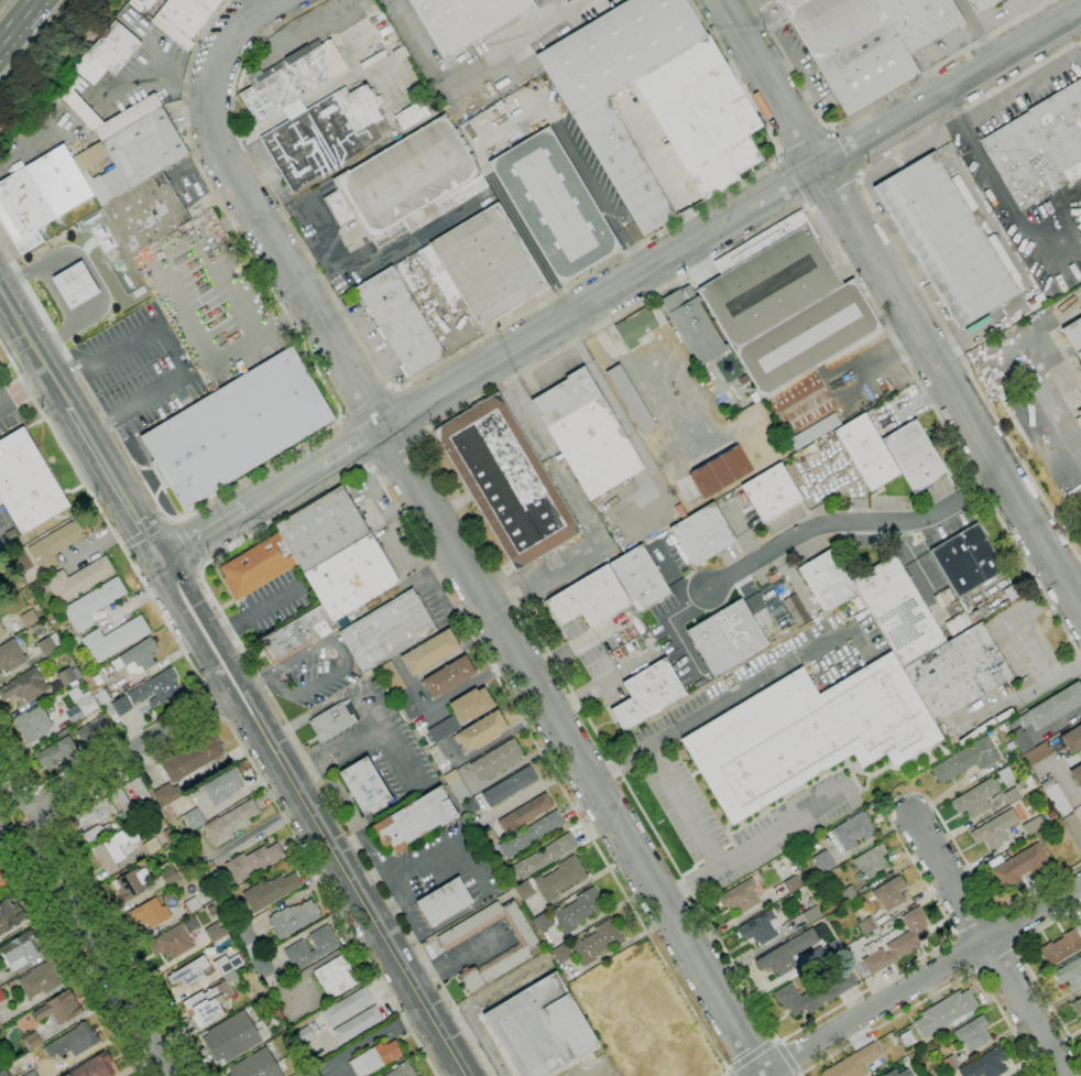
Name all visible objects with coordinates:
building: (141, 3)
building: (981, 4)
road: (554, 10)
road: (1080, 14)
building: (184, 19)
road: (17, 20)
building: (465, 20)
road: (978, 31)
building: (869, 41)
building: (619, 48)
road: (980, 72)
road: (477, 76)
building: (292, 78)
building: (70, 81)
road: (772, 84)
road: (1005, 97)
road: (875, 101)
road: (953, 115)
building: (411, 116)
building: (702, 116)
road: (510, 127)
building: (325, 133)
road: (802, 138)
building: (1039, 146)
road: (850, 149)
building: (141, 152)
road: (847, 152)
building: (624, 165)
road: (795, 181)
building: (406, 184)
road: (788, 185)
road: (837, 193)
building: (40, 196)
road: (1009, 202)
building: (554, 205)
building: (145, 213)
building: (946, 239)
building: (485, 264)
building: (74, 284)
gas station: (74, 284)
road: (228, 284)
road: (36, 301)
building: (1036, 302)
building: (785, 304)
road: (568, 315)
building: (400, 322)
building: (694, 325)
building: (635, 327)
road: (488, 335)
building: (1073, 336)
road: (1045, 346)
road: (172, 347)
road: (305, 347)
road: (33, 349)
building: (855, 349)
road: (957, 369)
road: (63, 371)
parking lot: (138, 371)
road: (133, 373)
road: (641, 373)
road: (978, 384)
road: (951, 387)
road: (24, 388)
road: (91, 393)
park: (722, 398)
building: (631, 399)
road: (367, 401)
building: (800, 403)
road: (524, 406)
road: (410, 411)
building: (1080, 413)
building: (1025, 420)
road: (622, 422)
building: (237, 427)
road: (97, 430)
building: (815, 431)
building: (587, 434)
road: (354, 443)
road: (349, 444)
building: (866, 452)
building: (914, 456)
road: (401, 459)
road: (142, 467)
building: (720, 471)
road: (156, 476)
road: (111, 479)
building: (506, 481)
road: (280, 482)
building: (26, 483)
road: (337, 483)
road: (154, 492)
building: (772, 492)
road: (574, 500)
road: (168, 501)
road: (852, 522)
road: (199, 528)
building: (702, 534)
road: (446, 536)
building: (57, 543)
road: (187, 543)
traffic signals: (156, 553)
building: (337, 553)
building: (967, 559)
building: (21, 561)
building: (258, 566)
road: (543, 577)
building: (640, 578)
building: (78, 579)
road: (1074, 579)
building: (828, 580)
road: (509, 588)
road: (190, 591)
building: (589, 598)
road: (175, 601)
building: (94, 604)
road: (271, 606)
building: (794, 609)
building: (897, 610)
building: (29, 618)
road: (168, 627)
road: (229, 630)
building: (1, 631)
building: (386, 631)
building: (292, 635)
building: (728, 638)
building: (114, 639)
building: (48, 644)
road: (576, 646)
building: (429, 652)
building: (11, 656)
building: (137, 657)
road: (343, 659)
road: (230, 661)
road: (215, 670)
building: (958, 673)
building: (449, 677)
road: (602, 683)
building: (36, 684)
road: (254, 684)
building: (156, 688)
building: (401, 691)
building: (647, 694)
road: (735, 694)
building: (102, 697)
road: (209, 702)
road: (254, 704)
building: (88, 705)
building: (120, 705)
building: (471, 705)
building: (1053, 707)
road: (240, 711)
building: (331, 722)
building: (33, 724)
building: (94, 729)
building: (444, 729)
building: (482, 731)
road: (185, 733)
building: (808, 733)
road: (389, 739)
building: (1072, 739)
building: (1020, 740)
road: (349, 746)
building: (57, 750)
road: (275, 753)
building: (1037, 754)
building: (192, 759)
building: (496, 760)
building: (965, 760)
road: (113, 761)
road: (610, 770)
road: (304, 771)
building: (1005, 774)
building: (1077, 774)
building: (222, 786)
building: (365, 786)
building: (509, 786)
building: (140, 790)
road: (943, 793)
building: (166, 794)
building: (1013, 795)
building: (1056, 796)
building: (975, 798)
road: (17, 801)
road: (43, 804)
building: (128, 805)
building: (470, 806)
building: (107, 808)
building: (525, 813)
building: (87, 815)
building: (194, 819)
building: (415, 819)
building: (229, 823)
building: (1033, 826)
building: (1056, 828)
building: (994, 829)
building: (1072, 829)
road: (29, 830)
building: (853, 830)
building: (96, 833)
building: (531, 834)
road: (875, 835)
building: (168, 836)
building: (489, 839)
road: (2, 840)
building: (151, 846)
building: (116, 849)
road: (435, 851)
building: (544, 857)
building: (823, 861)
building: (872, 861)
building: (252, 862)
road: (722, 866)
building: (1019, 866)
building: (208, 870)
building: (170, 876)
building: (560, 878)
building: (838, 880)
building: (2, 882)
road: (691, 884)
building: (791, 884)
building: (129, 885)
building: (524, 890)
building: (270, 892)
building: (848, 893)
building: (891, 893)
building: (740, 896)
building: (444, 902)
building: (192, 905)
building: (211, 910)
building: (579, 910)
building: (150, 913)
building: (9, 914)
building: (811, 914)
building: (293, 917)
building: (543, 922)
building: (762, 926)
road: (1011, 926)
road: (379, 927)
road: (86, 928)
building: (215, 932)
building: (244, 936)
building: (598, 942)
building: (171, 943)
building: (897, 943)
road: (991, 944)
building: (325, 947)
building: (523, 947)
building: (1062, 947)
building: (21, 950)
building: (787, 953)
building: (561, 954)
building: (817, 954)
road: (962, 954)
building: (250, 955)
road: (73, 956)
road: (998, 960)
road: (455, 963)
building: (228, 964)
building: (262, 966)
road: (1029, 969)
building: (189, 972)
building: (1070, 974)
building: (336, 977)
building: (40, 980)
road: (921, 980)
road: (939, 990)
building: (786, 995)
building: (1, 997)
building: (207, 1004)
building: (346, 1006)
building: (1077, 1006)
building: (59, 1008)
building: (944, 1012)
building: (357, 1024)
building: (0, 1026)
building: (538, 1028)
building: (973, 1033)
building: (231, 1037)
building: (907, 1039)
building: (31, 1041)
building: (73, 1042)
road: (754, 1057)
road: (790, 1057)
building: (374, 1058)
building: (854, 1063)
building: (949, 1063)
building: (986, 1064)
building: (255, 1065)
building: (94, 1066)
building: (402, 1070)
building: (3, 1073)
building: (899, 1073)
building: (31, 1074)
road: (728, 1074)

